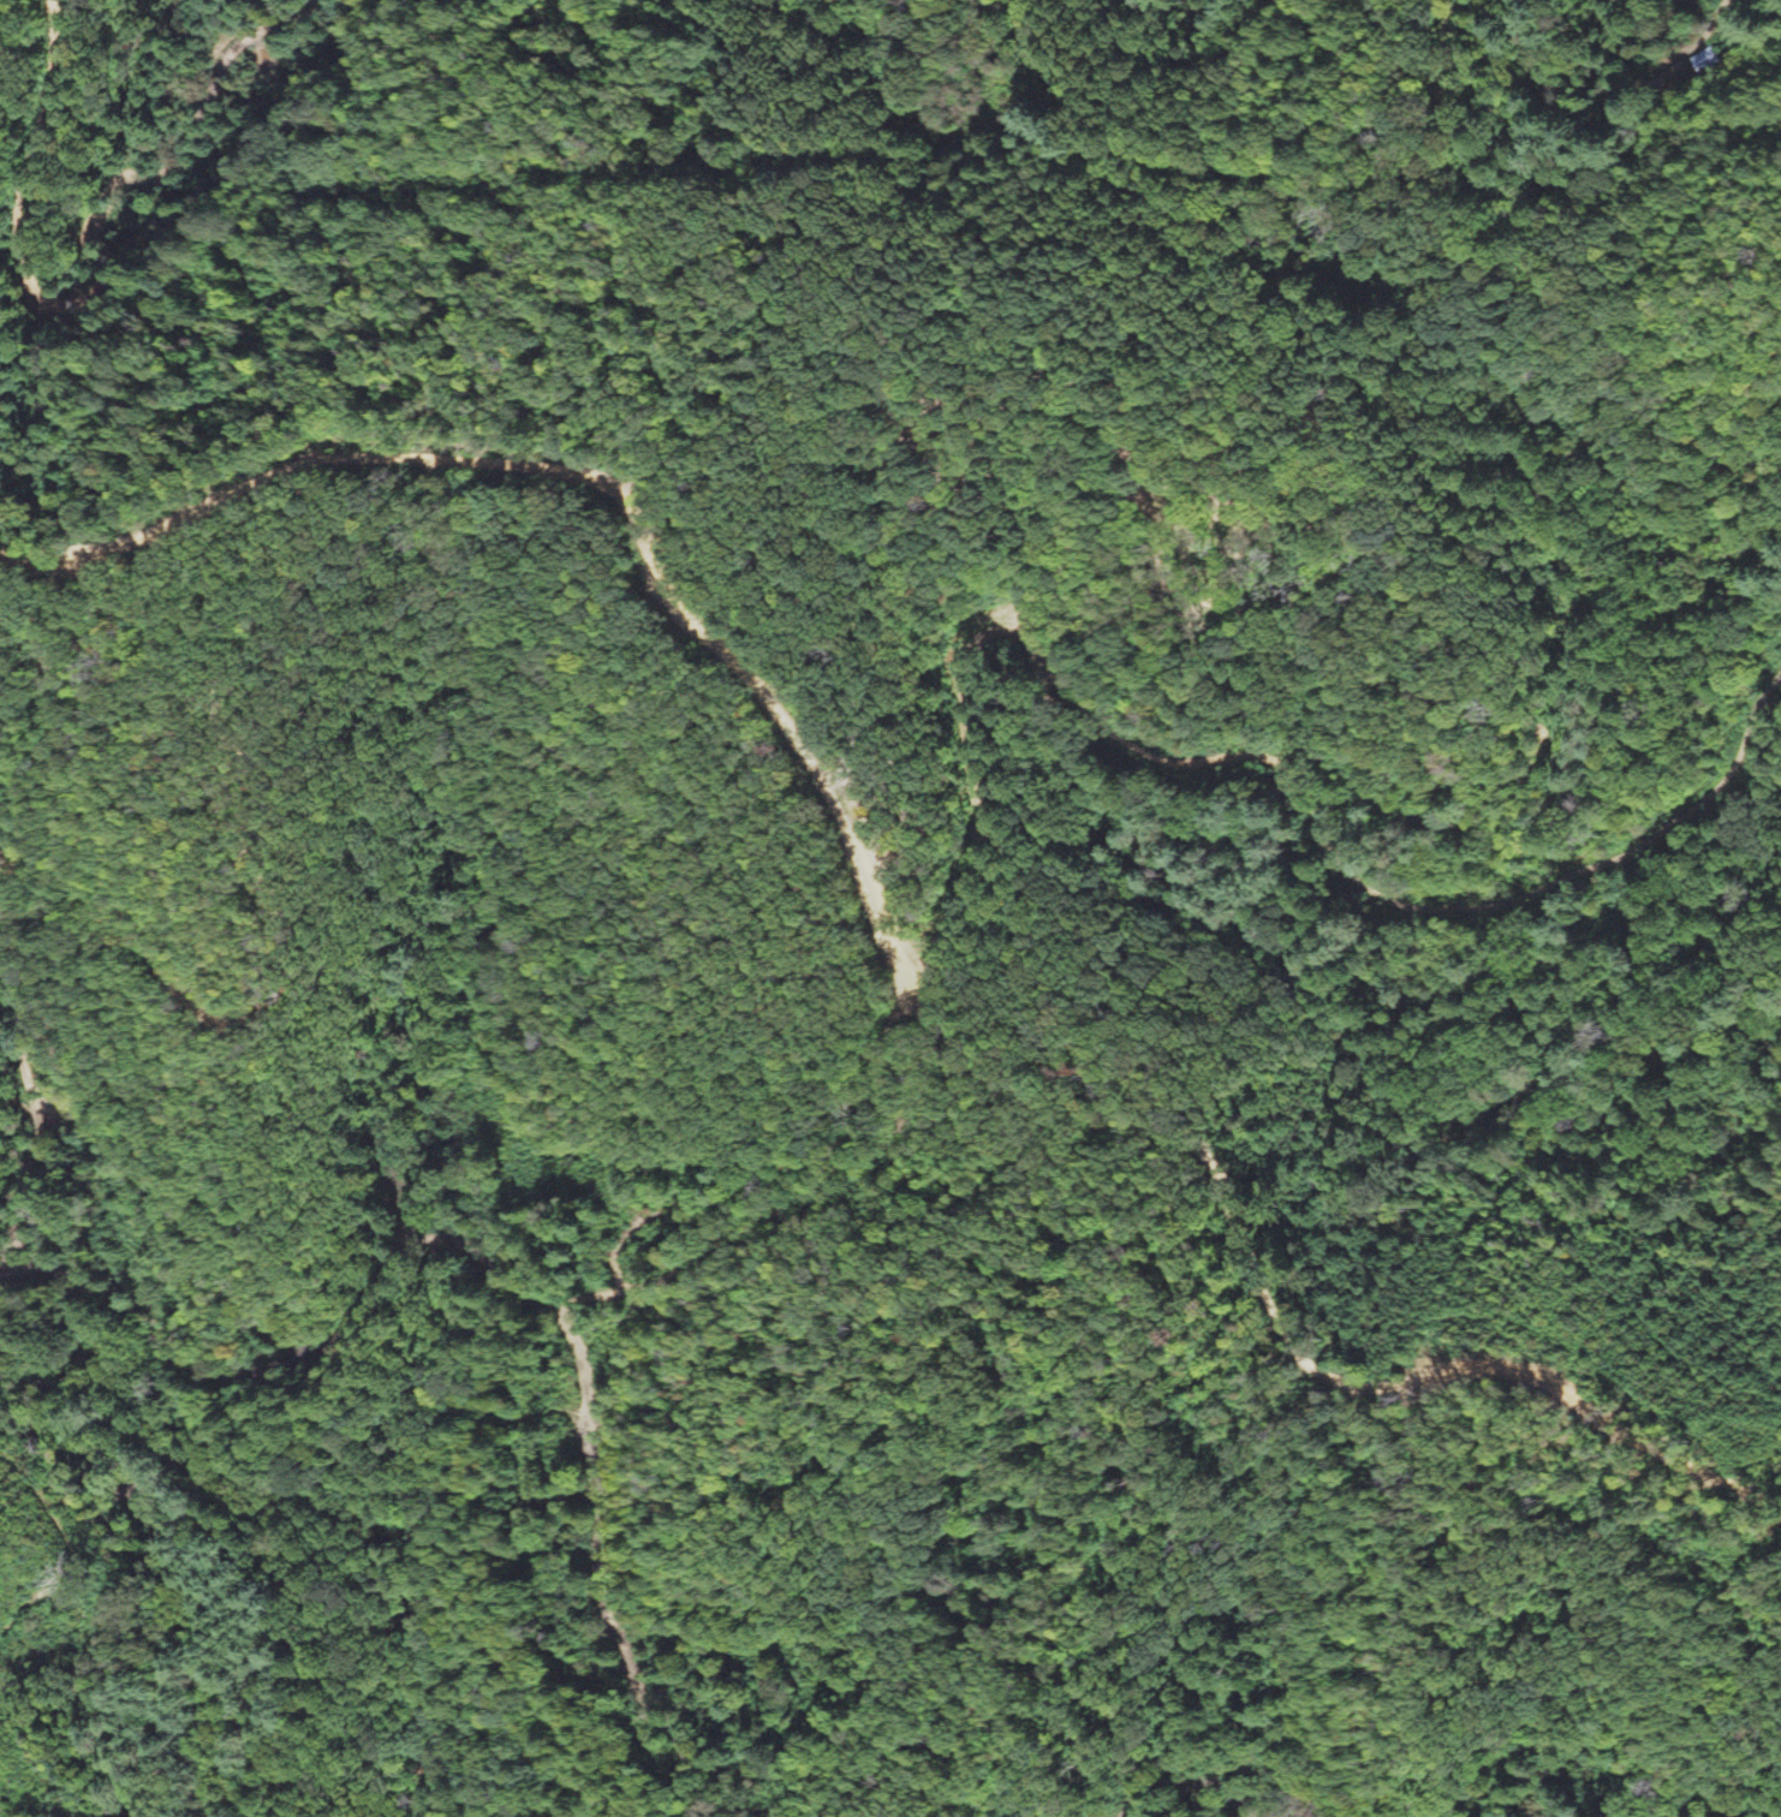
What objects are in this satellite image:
building: (1705, 58)
road: (857, 996)

